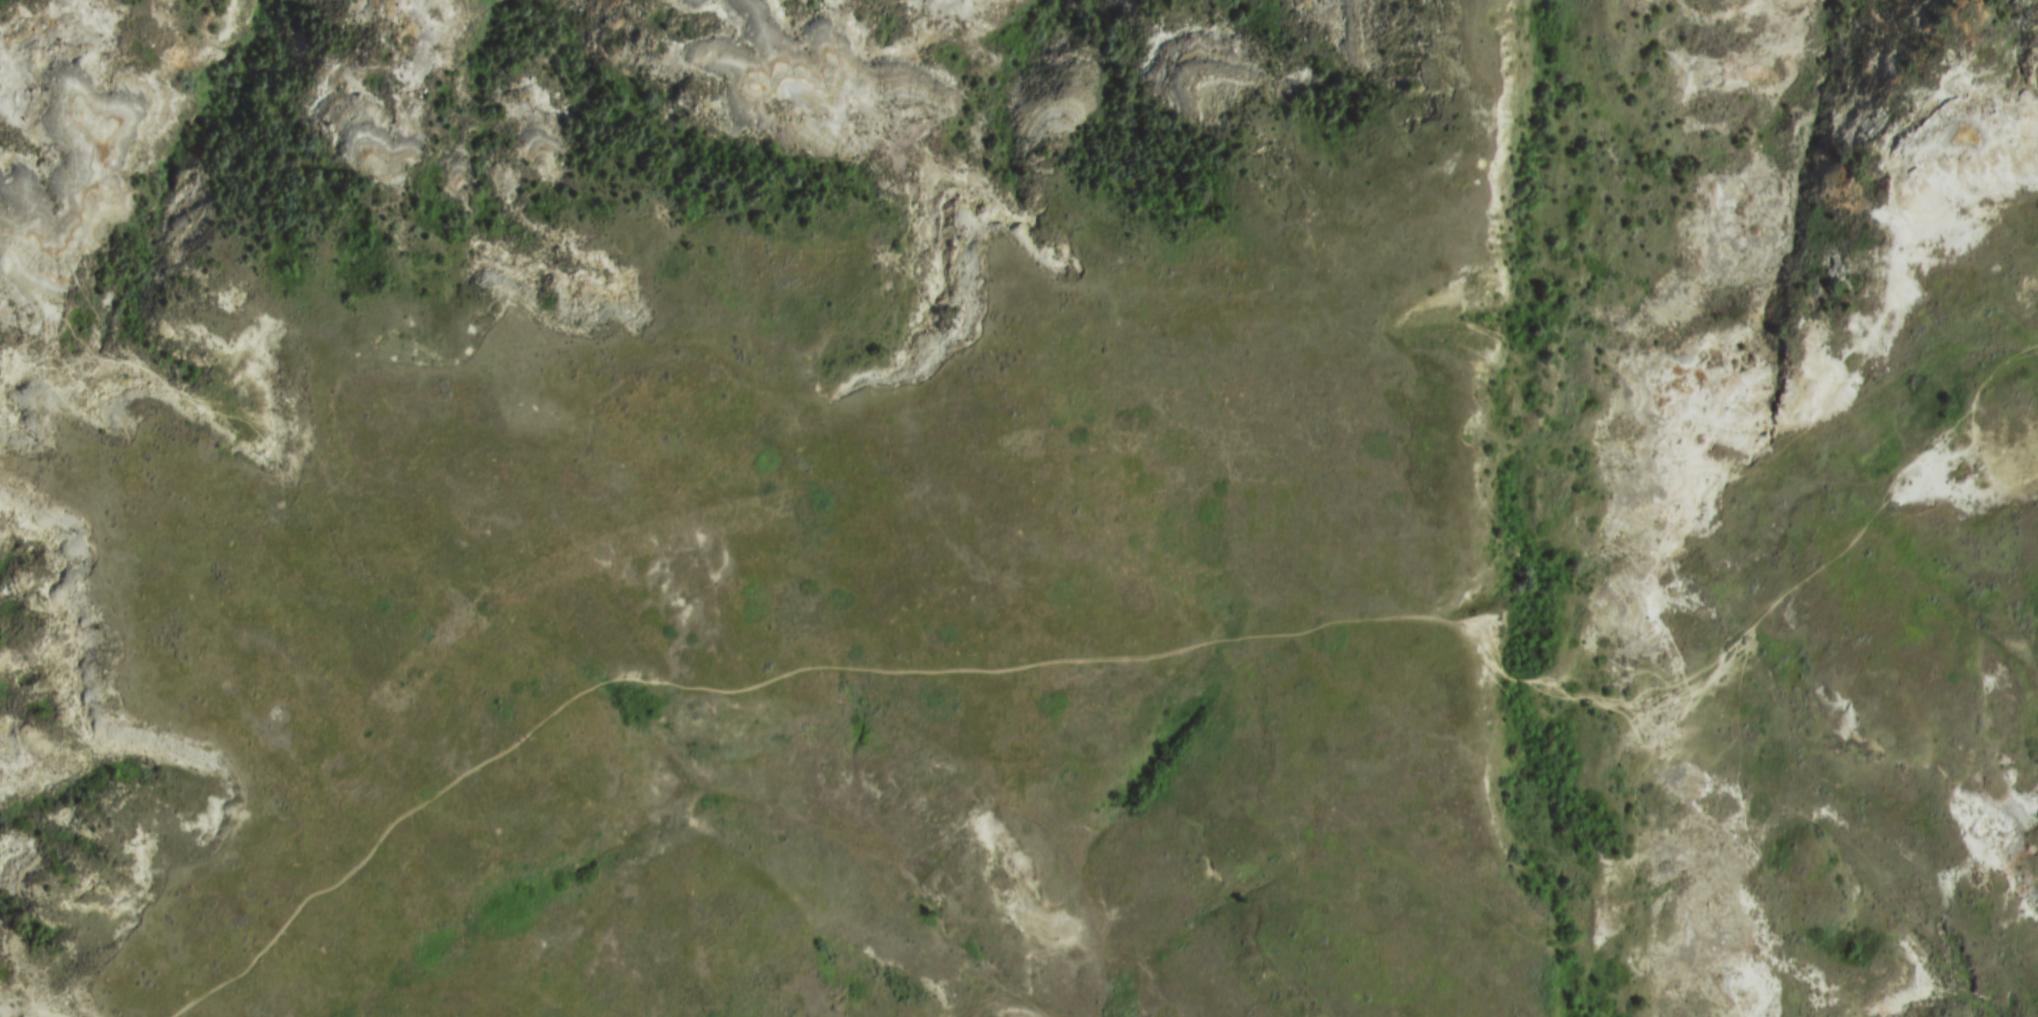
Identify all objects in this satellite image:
road: (1142, 652)
road: (18, 1014)

